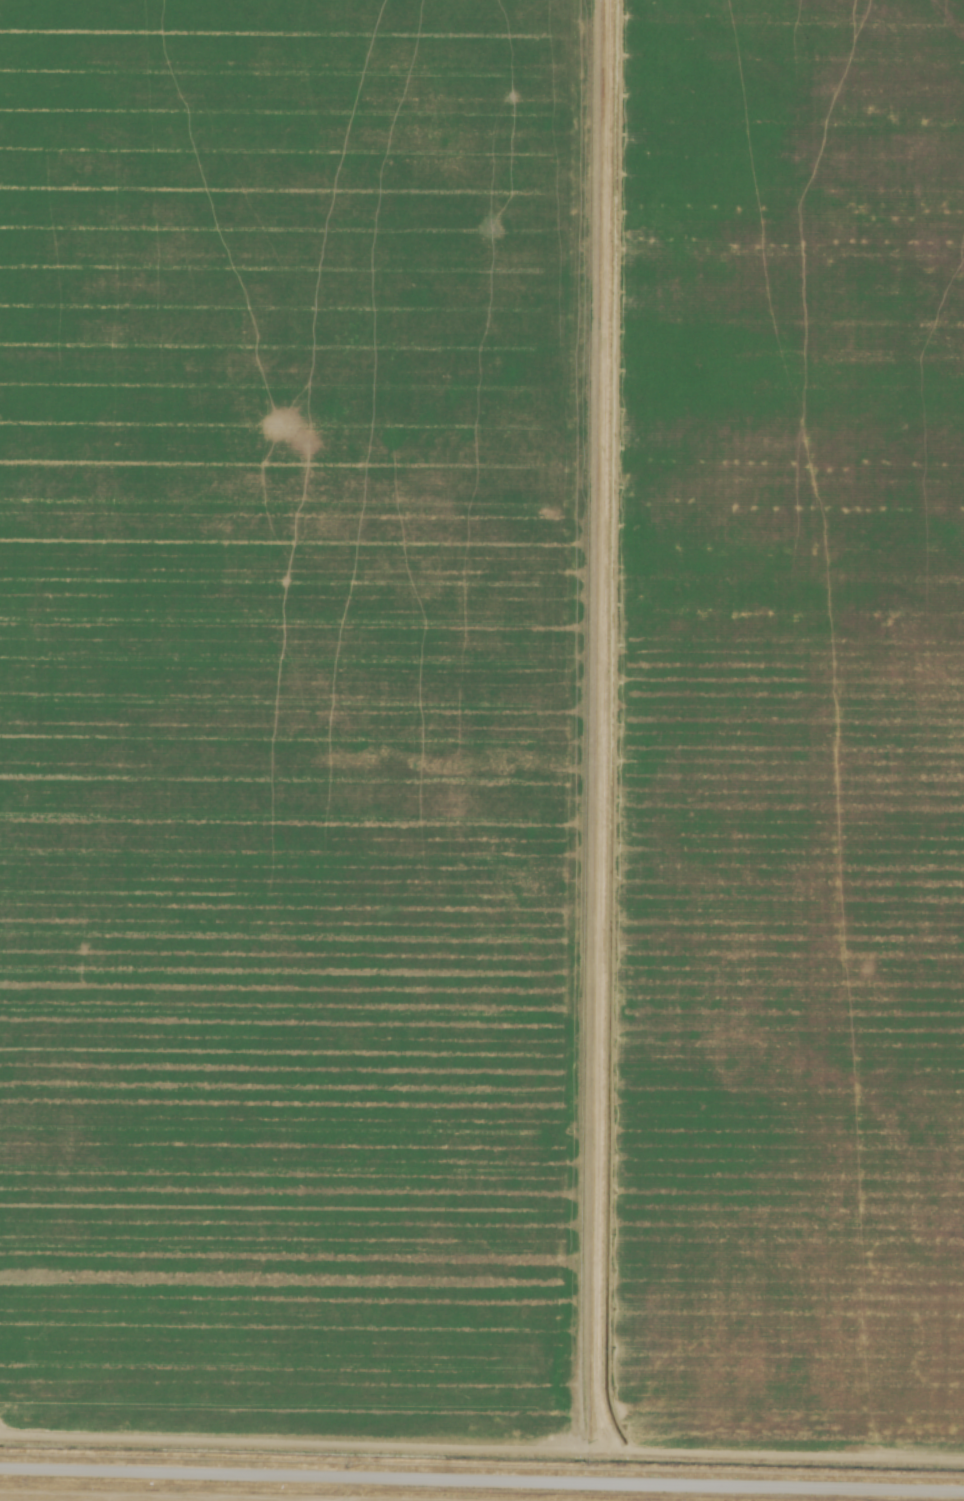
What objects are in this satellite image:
road: (600, 742)
road: (482, 1481)

